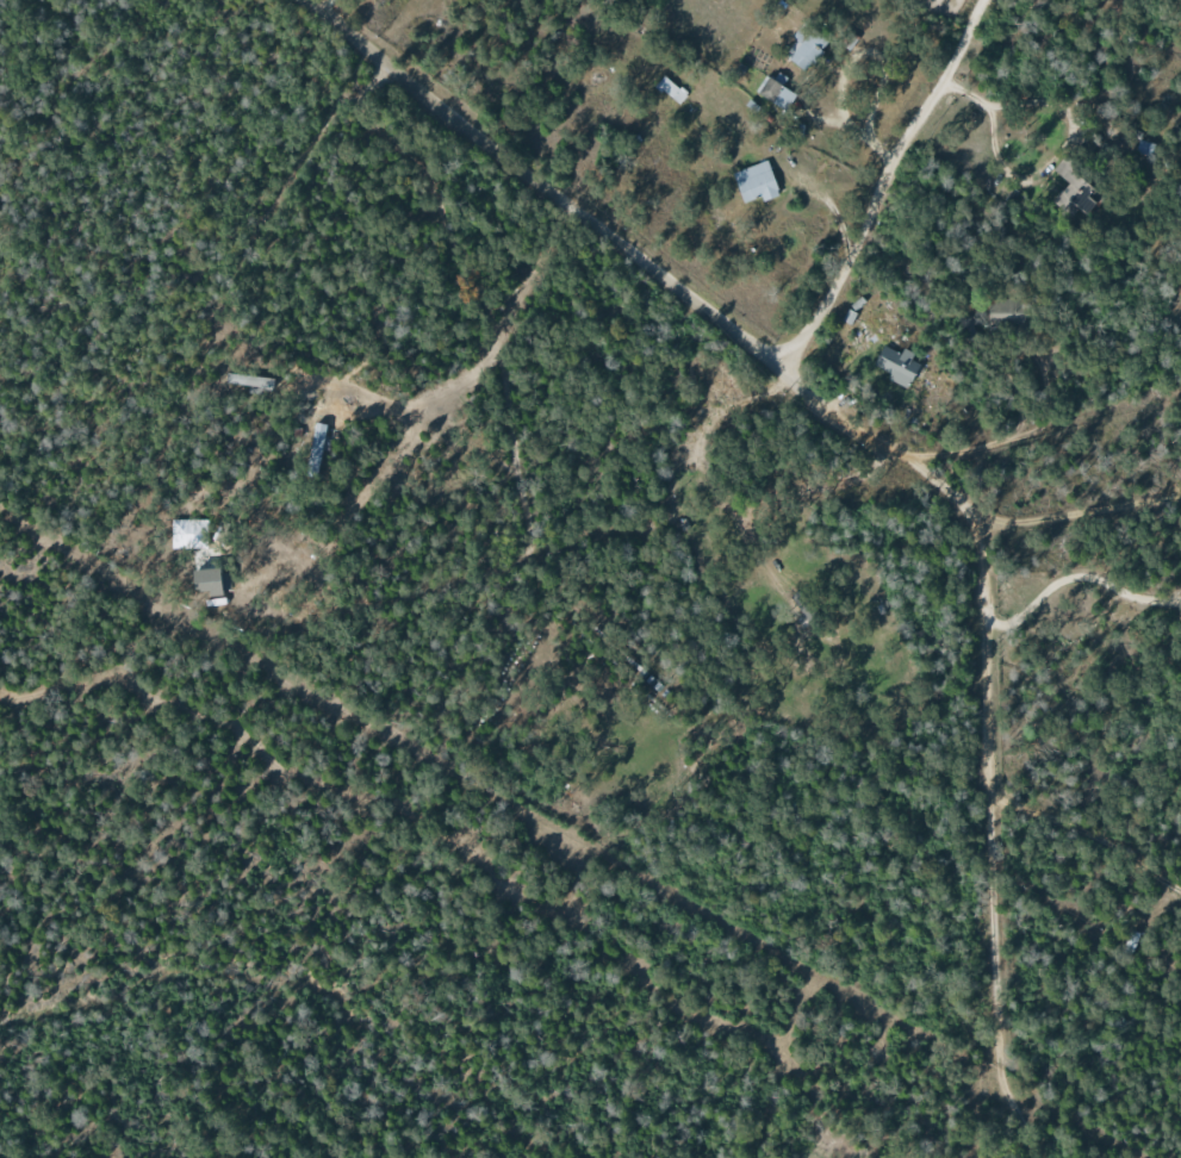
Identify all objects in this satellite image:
road: (324, 7)
building: (806, 48)
building: (670, 89)
building: (776, 93)
road: (993, 133)
building: (754, 181)
road: (881, 186)
building: (1081, 195)
building: (1007, 311)
building: (847, 316)
building: (896, 365)
road: (209, 371)
building: (248, 380)
road: (996, 442)
building: (315, 448)
road: (890, 459)
road: (1069, 511)
road: (1076, 572)
building: (205, 580)
road: (1089, 836)
road: (1095, 1053)

